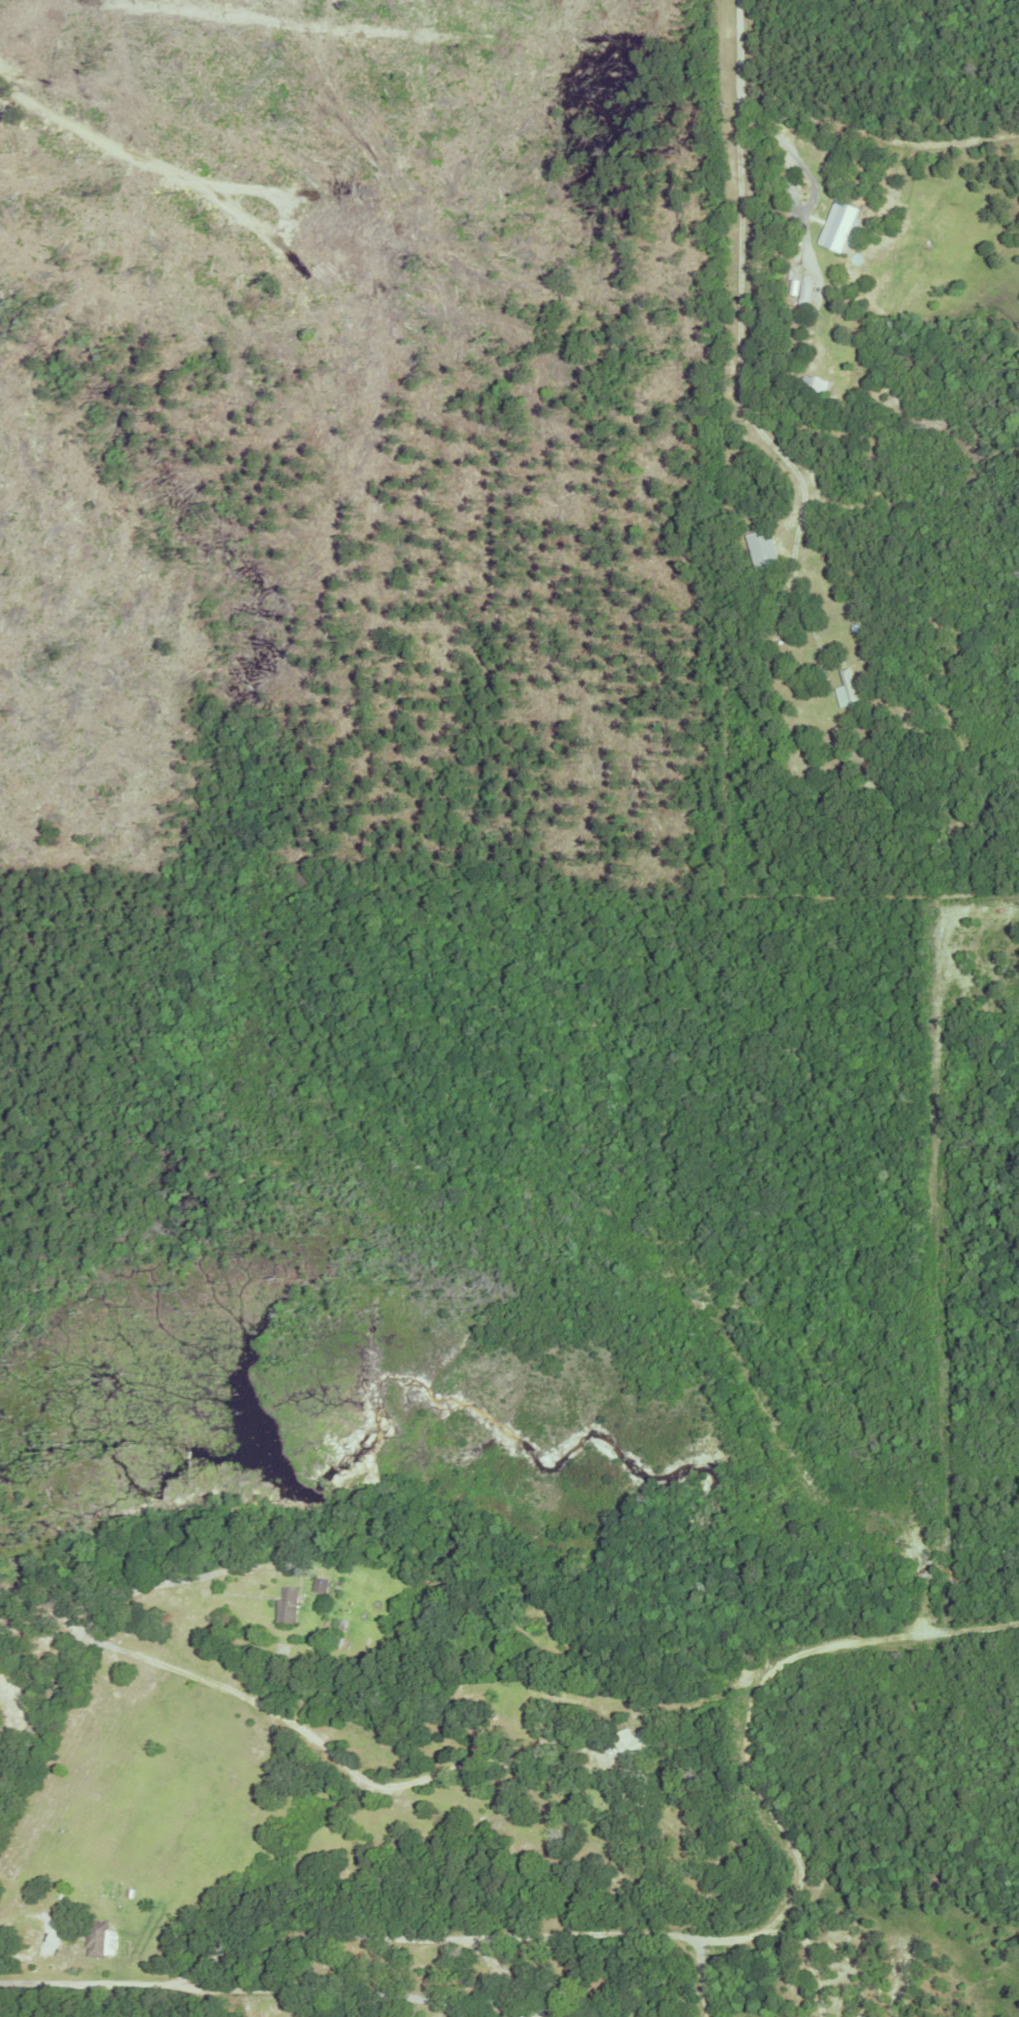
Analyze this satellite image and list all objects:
road: (785, 146)
building: (840, 226)
building: (805, 289)
road: (743, 299)
building: (819, 514)
building: (764, 549)
building: (827, 559)
road: (795, 645)
building: (848, 690)
road: (170, 1581)
building: (320, 1582)
building: (287, 1602)
building: (338, 1631)
road: (44, 1715)
building: (633, 1742)
road: (321, 1744)
road: (8, 1756)
building: (649, 1832)
building: (681, 1871)
building: (128, 1890)
building: (139, 1891)
road: (52, 1928)
road: (650, 1932)
building: (97, 1936)
road: (1, 1955)
road: (704, 1977)
road: (336, 1991)
building: (553, 2015)

